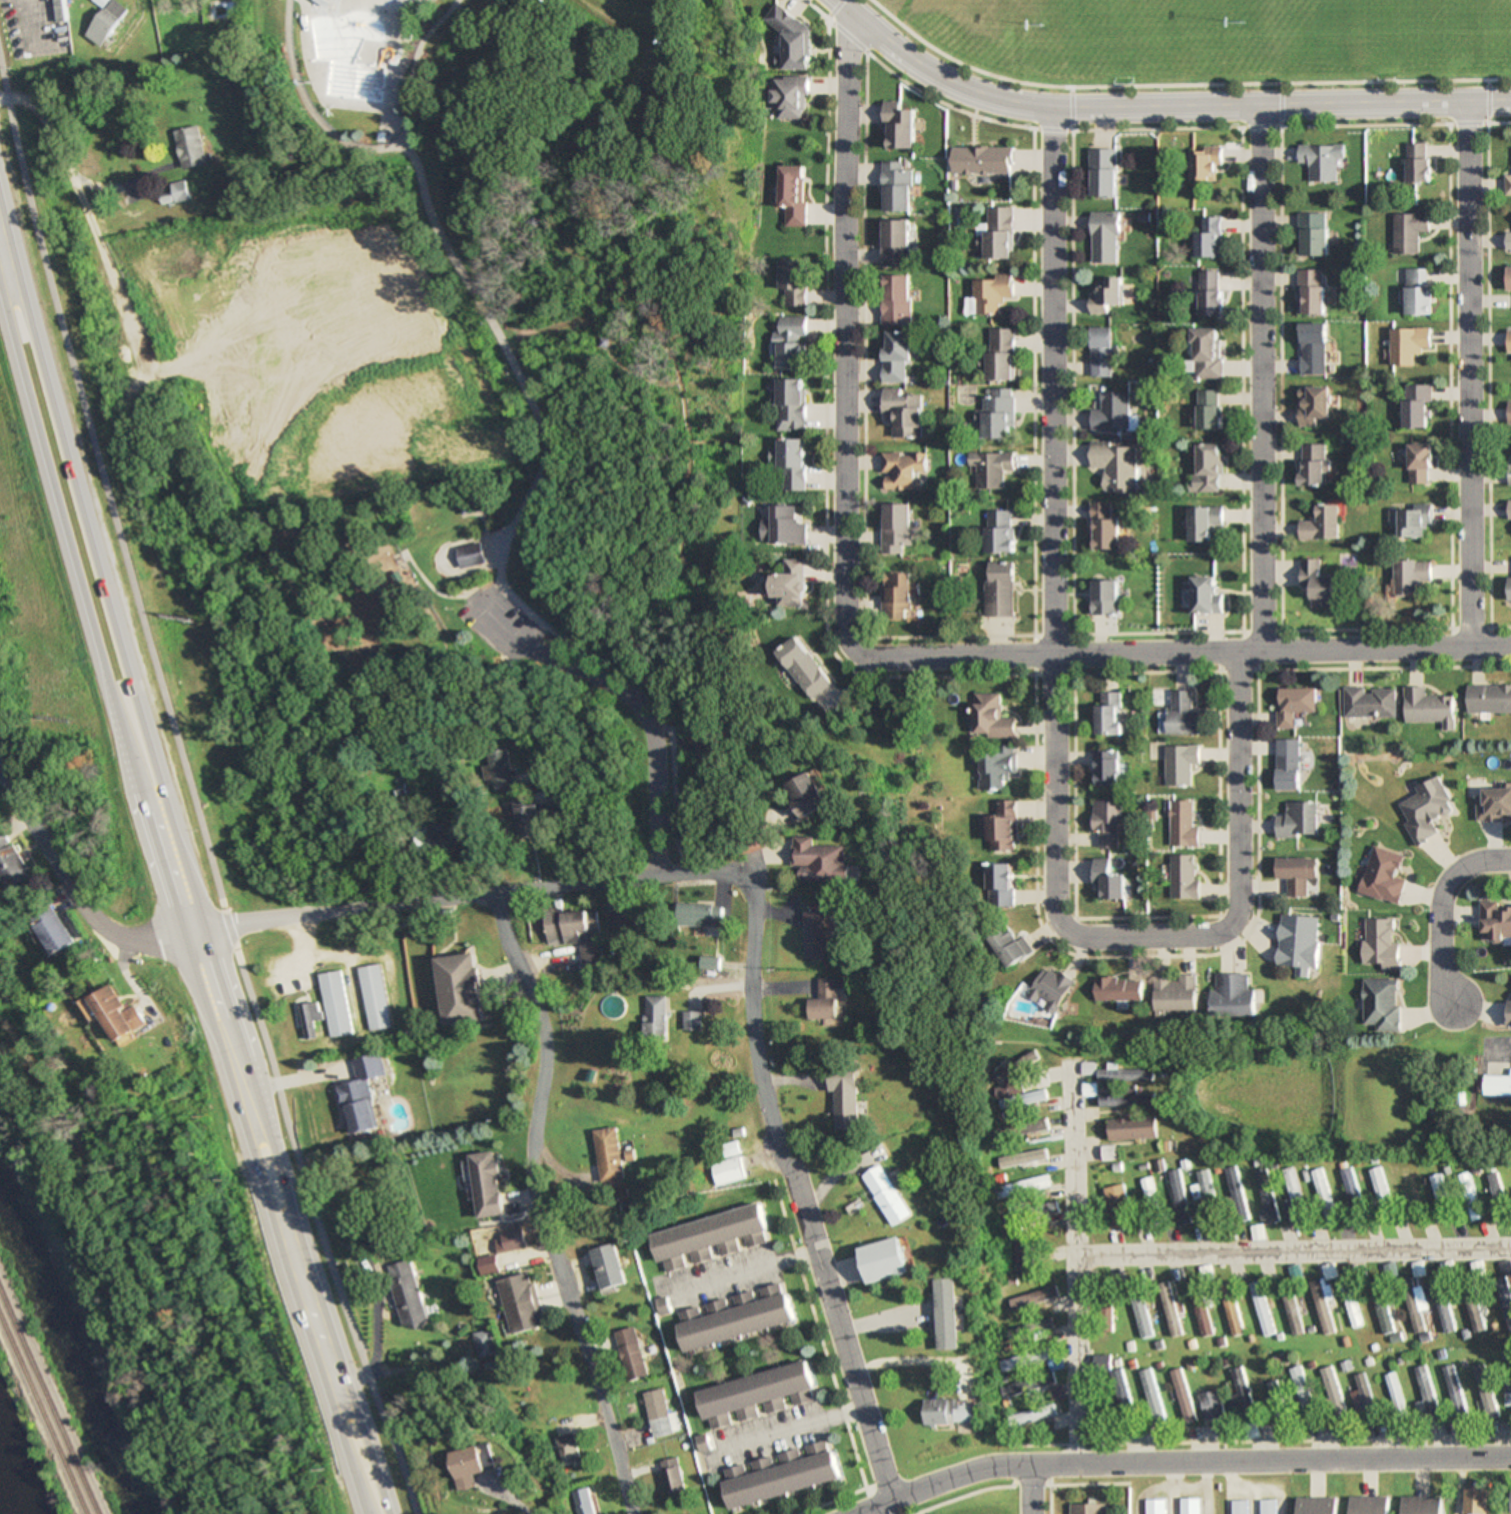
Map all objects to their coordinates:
road: (832, 9)
building: (60, 10)
building: (108, 22)
park: (1491, 27)
park: (1355, 29)
park: (1142, 32)
building: (792, 39)
park: (1216, 45)
building: (345, 65)
road: (1183, 79)
road: (1488, 96)
building: (787, 98)
road: (1280, 101)
road: (1069, 103)
road: (1155, 103)
road: (310, 104)
road: (1136, 125)
building: (900, 126)
building: (192, 147)
building: (983, 161)
building: (1321, 161)
building: (1207, 164)
building: (1419, 164)
road: (569, 165)
building: (1105, 173)
building: (1508, 185)
building: (898, 187)
building: (177, 193)
building: (793, 196)
building: (1409, 232)
building: (1001, 233)
building: (1315, 234)
building: (1106, 238)
building: (1210, 238)
building: (1509, 241)
building: (898, 243)
building: (1510, 278)
building: (794, 284)
building: (1419, 291)
building: (1311, 292)
building: (993, 293)
building: (1211, 293)
building: (1107, 294)
building: (898, 300)
road: (566, 314)
building: (184, 330)
road: (842, 336)
building: (1509, 342)
building: (792, 343)
building: (1409, 345)
building: (1314, 349)
road: (663, 352)
building: (1102, 352)
building: (1209, 353)
building: (898, 354)
building: (1003, 354)
road: (612, 356)
road: (1466, 375)
road: (1258, 377)
park: (539, 391)
building: (793, 405)
building: (1315, 405)
building: (1418, 406)
building: (1211, 410)
building: (905, 412)
building: (1112, 412)
building: (999, 413)
building: (1509, 413)
road: (538, 458)
building: (1510, 461)
building: (1421, 462)
building: (795, 464)
building: (1116, 465)
building: (1314, 465)
building: (992, 468)
building: (1209, 469)
building: (906, 471)
building: (461, 502)
building: (1509, 509)
road: (475, 521)
building: (1415, 521)
building: (1205, 522)
building: (1323, 524)
building: (785, 527)
building: (1106, 527)
building: (898, 528)
building: (1002, 532)
road: (438, 550)
building: (468, 555)
building: (1413, 577)
building: (792, 584)
building: (1320, 584)
building: (1510, 589)
road: (436, 591)
building: (1002, 591)
building: (1209, 595)
building: (900, 596)
building: (1106, 598)
road: (87, 613)
parking lot: (495, 621)
road: (1188, 652)
building: (805, 667)
road: (731, 698)
road: (630, 699)
building: (1490, 699)
building: (1370, 703)
building: (1295, 705)
building: (1429, 708)
building: (1111, 714)
building: (1185, 714)
building: (993, 718)
road: (1053, 739)
building: (1180, 764)
building: (1289, 764)
building: (997, 767)
building: (1108, 768)
building: (499, 770)
building: (809, 796)
building: (1494, 805)
road: (188, 807)
building: (1426, 811)
building: (526, 818)
building: (1300, 821)
building: (1108, 824)
building: (1184, 825)
building: (1003, 827)
building: (455, 840)
road: (185, 843)
building: (13, 861)
building: (818, 861)
building: (1299, 874)
building: (1384, 876)
building: (1185, 877)
road: (71, 881)
building: (1110, 882)
building: (1001, 885)
road: (464, 896)
road: (1441, 909)
building: (703, 915)
building: (636, 919)
building: (1495, 921)
building: (54, 929)
building: (575, 932)
building: (818, 935)
building: (1300, 943)
building: (1381, 944)
building: (1010, 947)
building: (1051, 988)
building: (1120, 989)
building: (460, 990)
building: (1177, 993)
building: (374, 997)
building: (1235, 998)
building: (830, 1000)
building: (337, 1003)
building: (1382, 1004)
building: (115, 1013)
building: (1508, 1014)
building: (657, 1018)
building: (311, 1019)
building: (694, 1021)
building: (1019, 1066)
building: (1088, 1069)
building: (1125, 1075)
building: (1498, 1086)
building: (363, 1096)
building: (1126, 1099)
building: (848, 1100)
building: (1021, 1100)
building: (1029, 1127)
building: (1133, 1129)
building: (612, 1155)
building: (728, 1171)
building: (488, 1185)
building: (1016, 1188)
building: (1410, 1192)
road: (797, 1194)
building: (1294, 1194)
building: (1204, 1195)
building: (1234, 1195)
building: (1265, 1195)
building: (1351, 1195)
building: (1380, 1195)
building: (889, 1196)
building: (1323, 1196)
building: (1468, 1197)
building: (1497, 1197)
building: (1440, 1198)
building: (1148, 1201)
road: (535, 1205)
building: (1116, 1206)
building: (1014, 1218)
road: (270, 1220)
building: (1255, 1233)
building: (712, 1238)
building: (512, 1240)
road: (125, 1245)
road: (1291, 1251)
building: (1022, 1259)
road: (1071, 1263)
building: (489, 1264)
building: (609, 1268)
building: (1416, 1269)
building: (1446, 1269)
building: (1475, 1269)
building: (410, 1295)
building: (1504, 1298)
building: (522, 1304)
building: (1350, 1304)
building: (1441, 1306)
building: (1323, 1307)
building: (1260, 1309)
building: (1169, 1310)
building: (1200, 1310)
building: (1138, 1311)
building: (1383, 1311)
building: (1474, 1311)
building: (1291, 1314)
building: (947, 1315)
building: (1232, 1315)
building: (1417, 1316)
building: (740, 1319)
building: (1022, 1331)
building: (485, 1344)
building: (1044, 1354)
building: (629, 1355)
building: (1012, 1363)
building: (1345, 1367)
building: (1047, 1380)
building: (1332, 1391)
building: (1301, 1392)
building: (1486, 1393)
building: (1425, 1394)
building: (1454, 1394)
building: (1394, 1395)
building: (1182, 1396)
building: (759, 1397)
building: (1150, 1397)
building: (1241, 1397)
building: (1365, 1398)
railway: (48, 1401)
building: (1275, 1402)
building: (1211, 1406)
railway: (43, 1413)
building: (656, 1414)
building: (951, 1414)
building: (1031, 1416)
building: (566, 1449)
road: (1183, 1461)
building: (477, 1467)
building: (671, 1476)
building: (785, 1476)
road: (1029, 1489)
building: (582, 1502)
building: (1478, 1502)
building: (1510, 1502)
building: (1422, 1505)
building: (1190, 1506)
building: (1268, 1506)
building: (1317, 1506)
building: (1370, 1506)
building: (1155, 1507)
building: (1240, 1507)
building: (1088, 1509)

